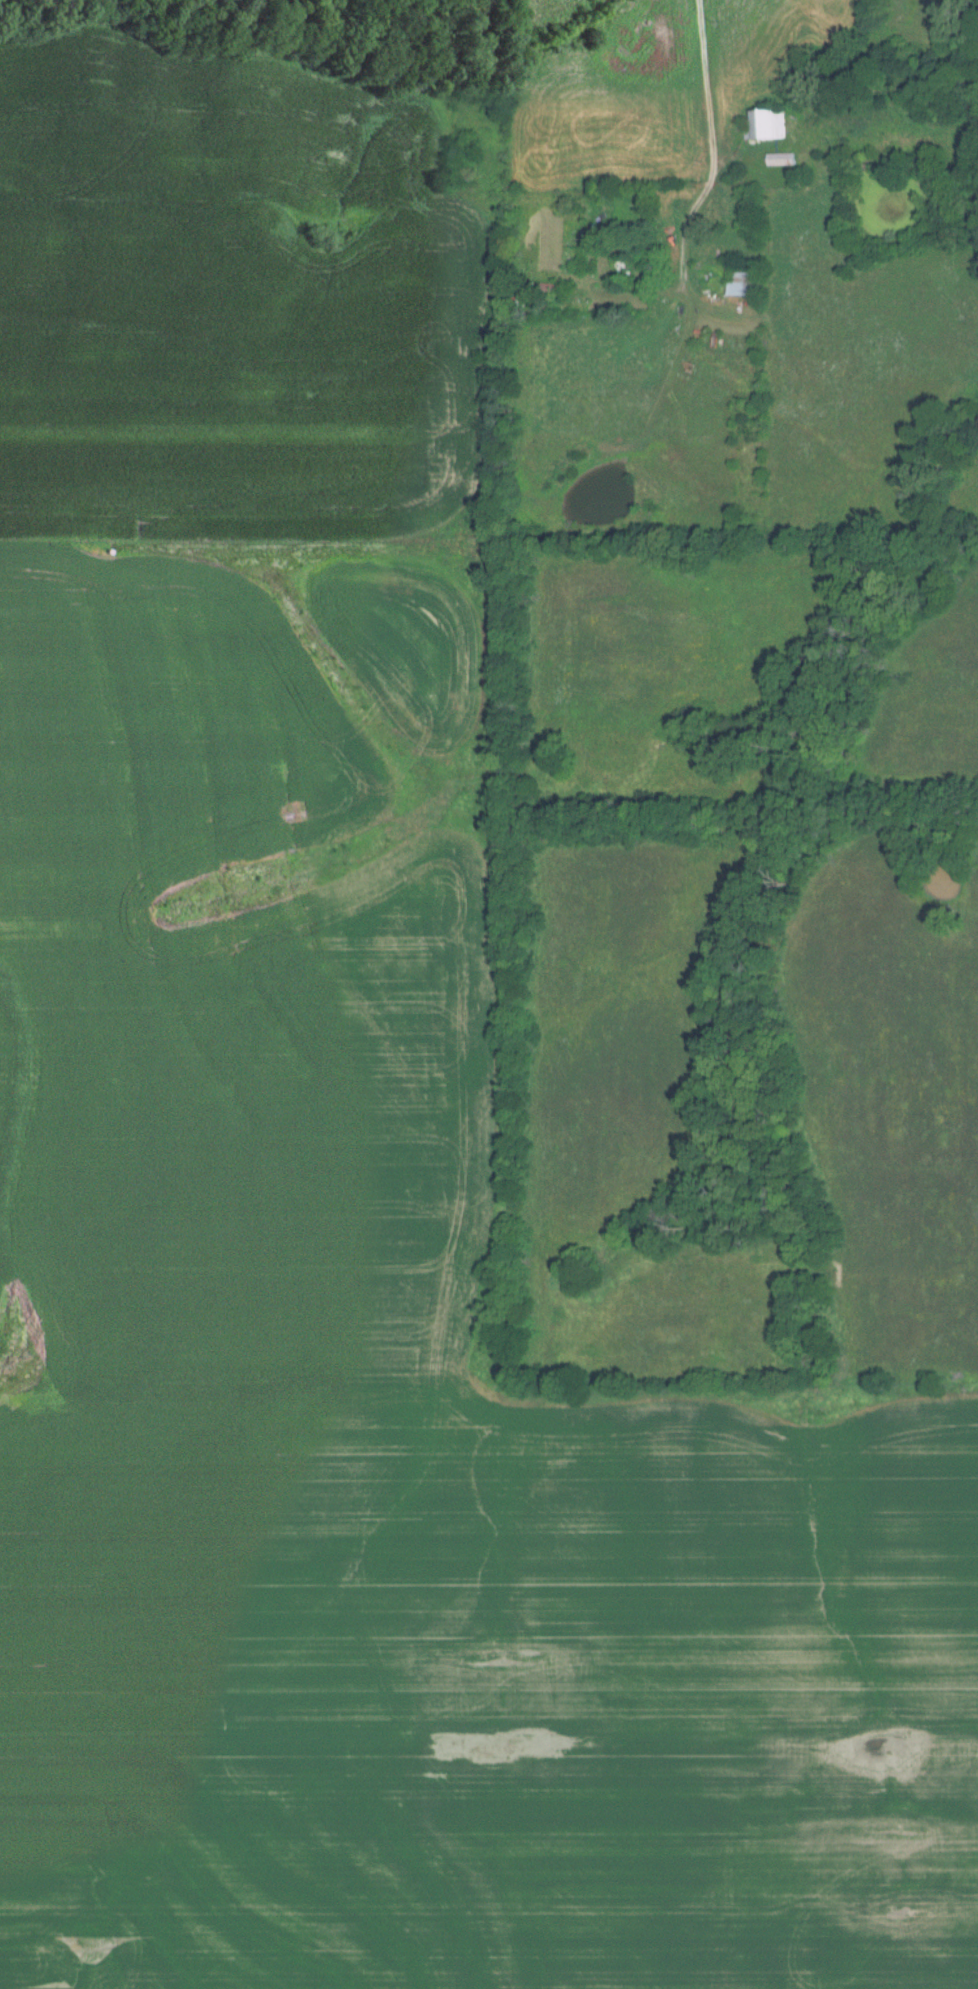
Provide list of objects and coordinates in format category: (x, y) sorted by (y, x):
road: (681, 91)
building: (766, 123)
building: (738, 282)
building: (547, 287)

